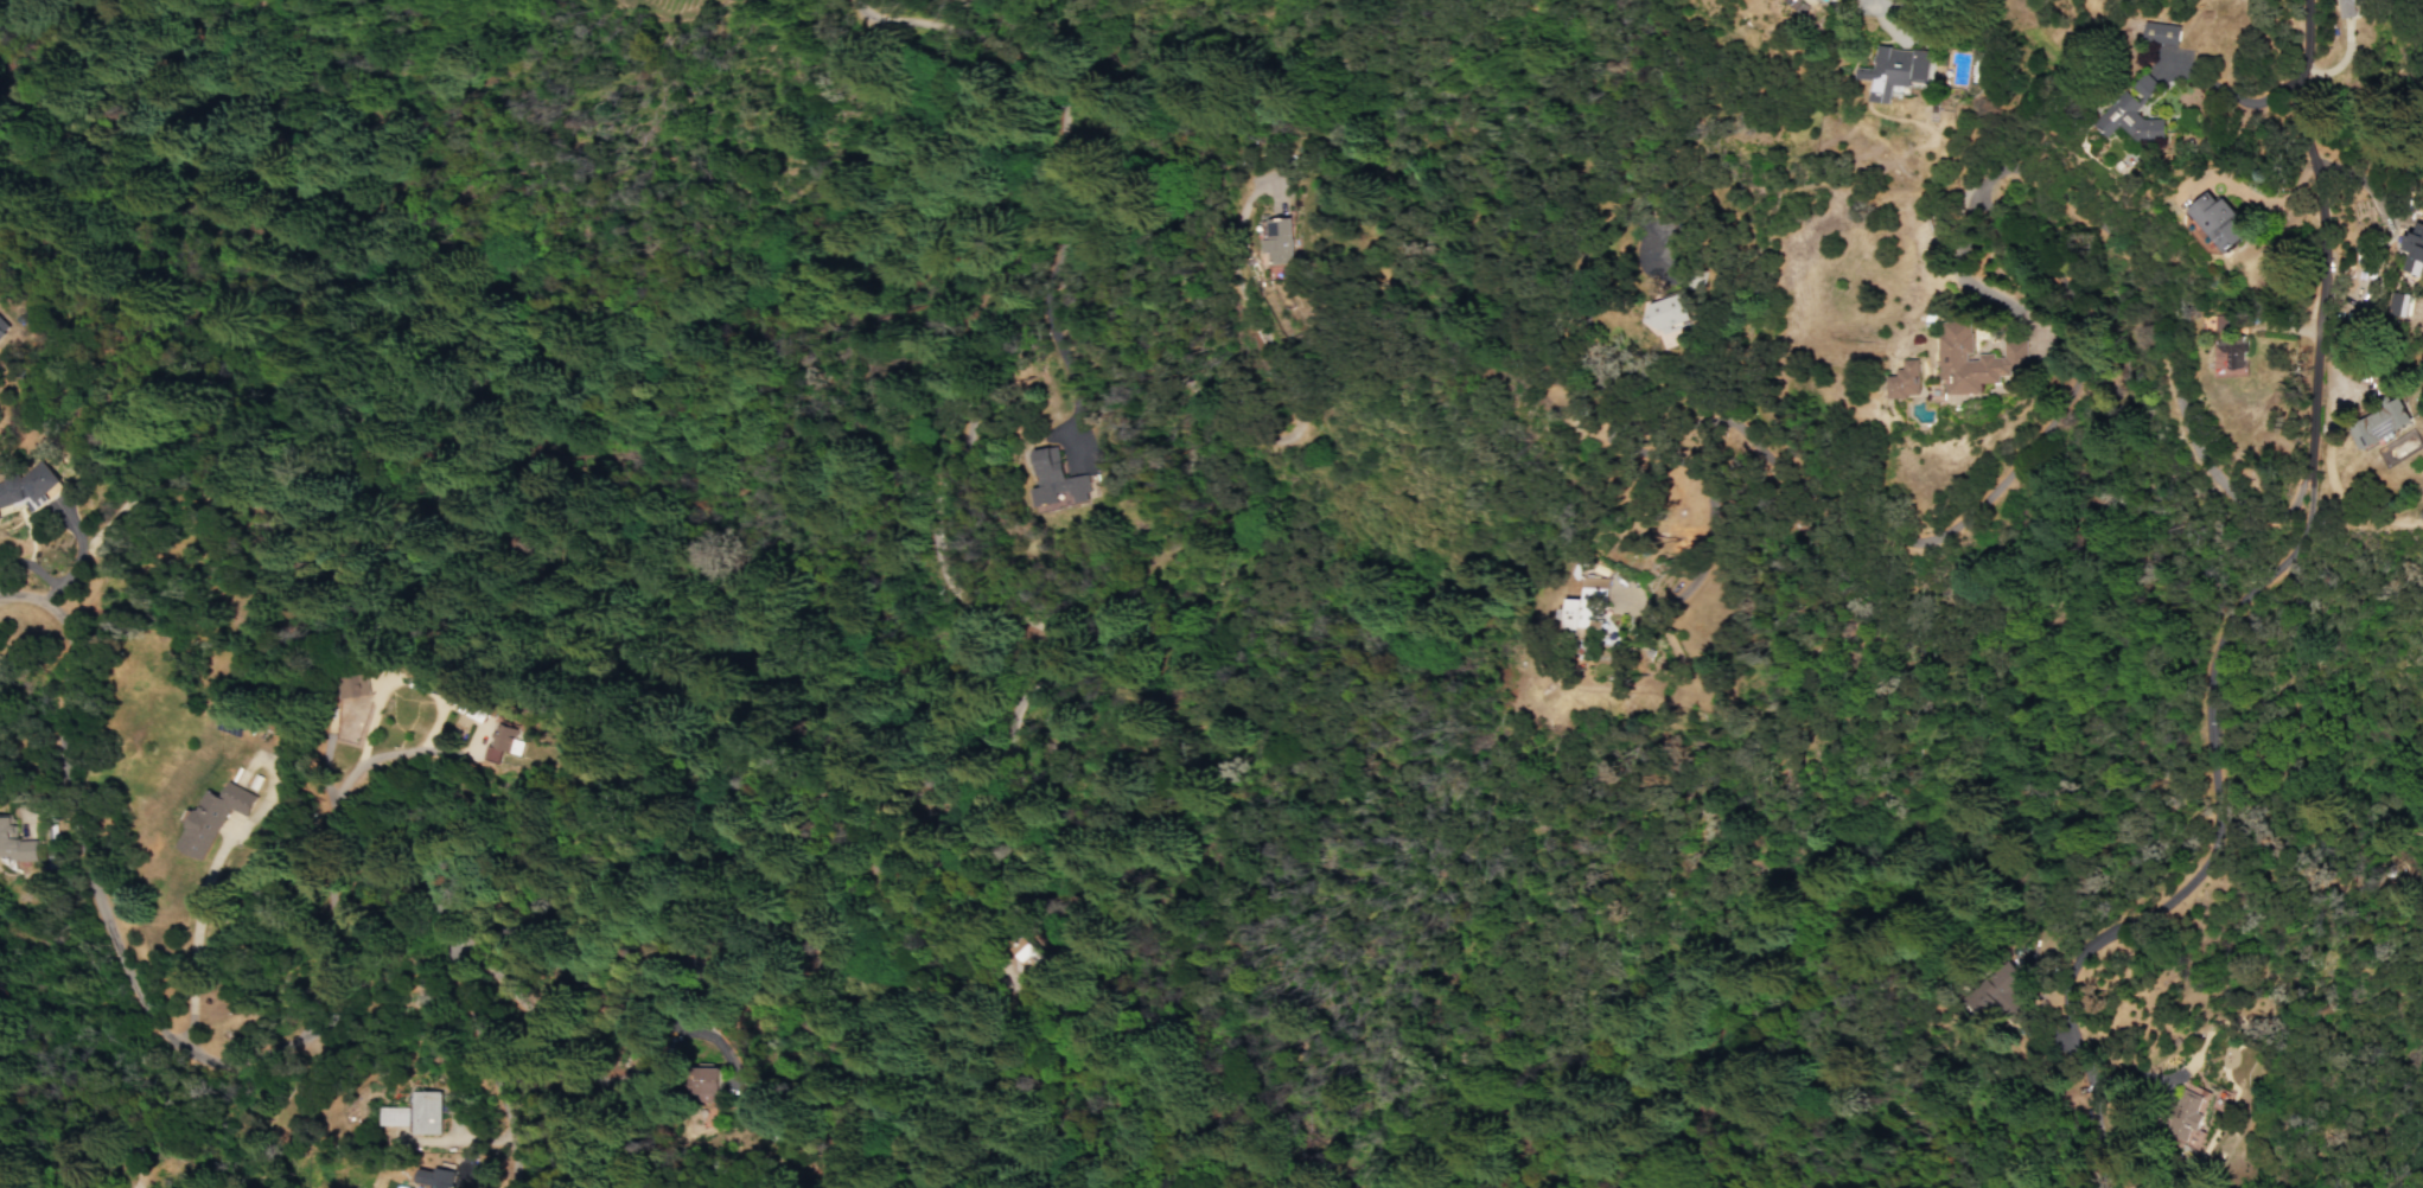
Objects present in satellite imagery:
building: (2346, 7)
building: (2159, 33)
building: (1894, 70)
road: (2297, 76)
building: (2130, 113)
road: (2001, 168)
building: (2214, 221)
building: (1277, 241)
building: (2411, 249)
building: (2399, 304)
building: (2213, 322)
building: (2, 328)
road: (2011, 334)
road: (1050, 339)
building: (2230, 356)
building: (2000, 357)
road: (1130, 365)
building: (1904, 379)
road: (1284, 388)
building: (2378, 424)
building: (1054, 479)
building: (27, 488)
road: (2367, 517)
crop: (897, 528)
road: (74, 560)
building: (1584, 607)
road: (1005, 637)
building: (352, 684)
building: (499, 742)
building: (211, 817)
road: (312, 833)
building: (13, 842)
road: (2211, 869)
road: (202, 901)
building: (1007, 940)
building: (1012, 947)
road: (122, 964)
road: (661, 984)
building: (1996, 994)
road: (484, 1066)
building: (700, 1082)
building: (427, 1113)
building: (395, 1116)
building: (2187, 1116)
building: (438, 1177)

